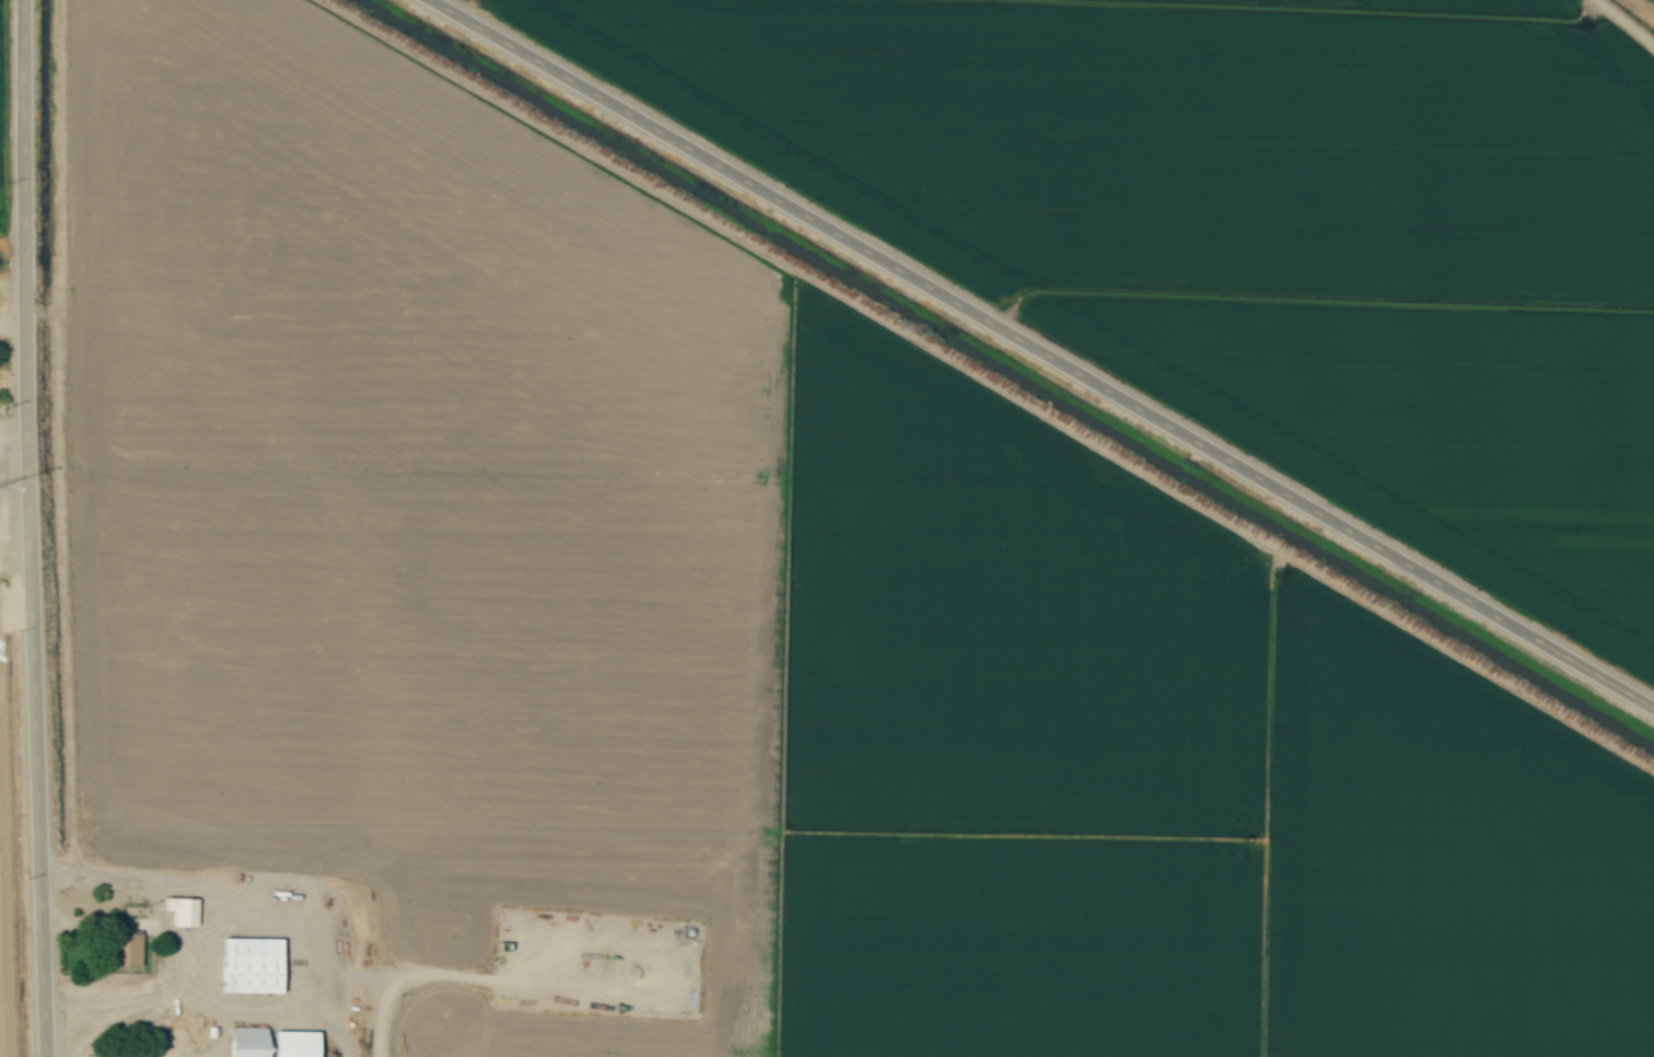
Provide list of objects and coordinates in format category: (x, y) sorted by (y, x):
road: (1043, 353)
road: (34, 528)
road: (263, 885)
building: (185, 910)
building: (128, 950)
building: (255, 965)
building: (275, 1043)

